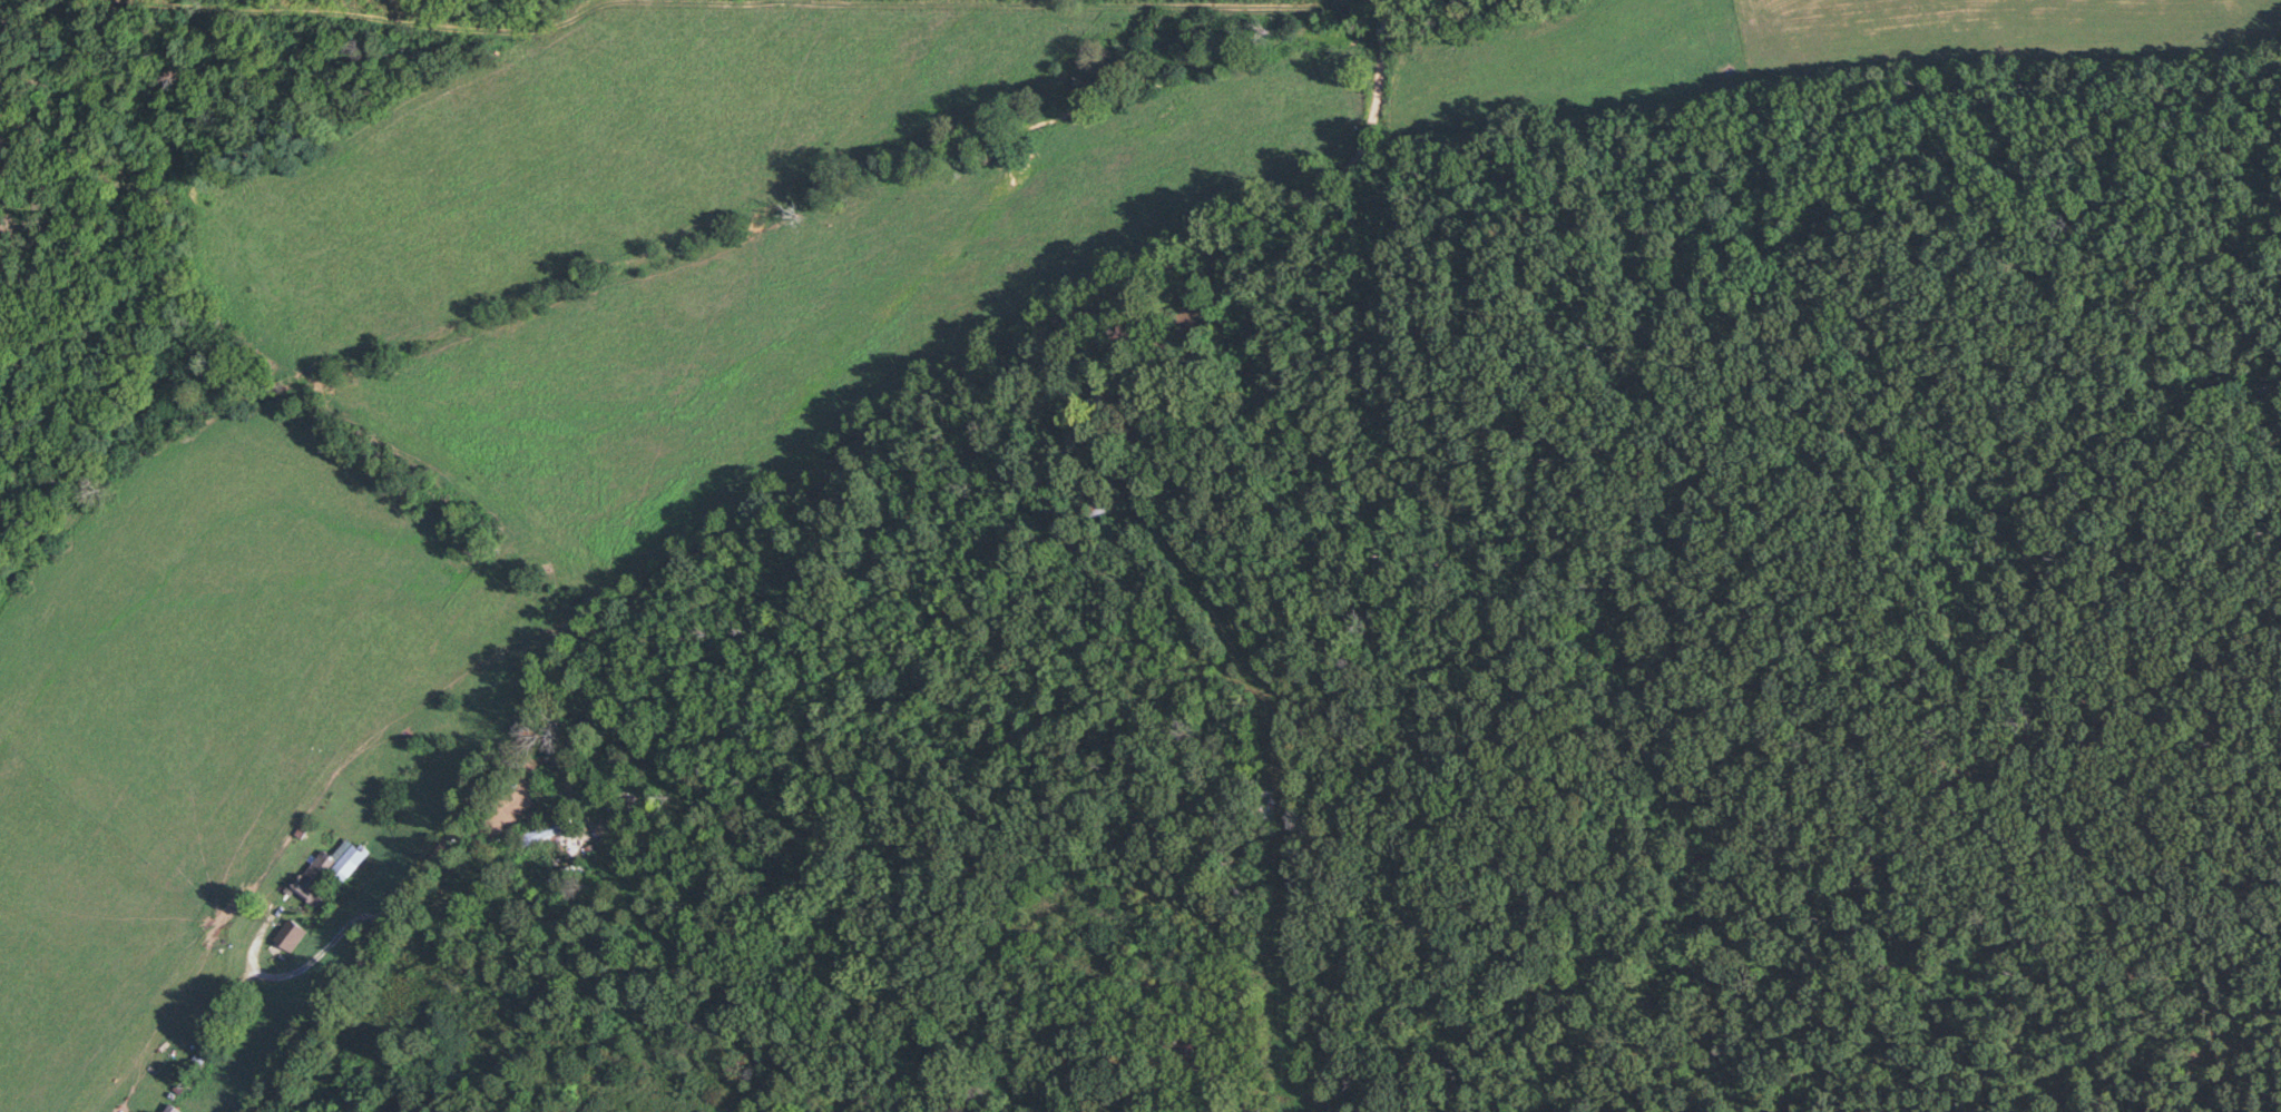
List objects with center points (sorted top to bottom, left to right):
road: (791, 494)
building: (321, 870)
building: (282, 935)
building: (187, 1063)

